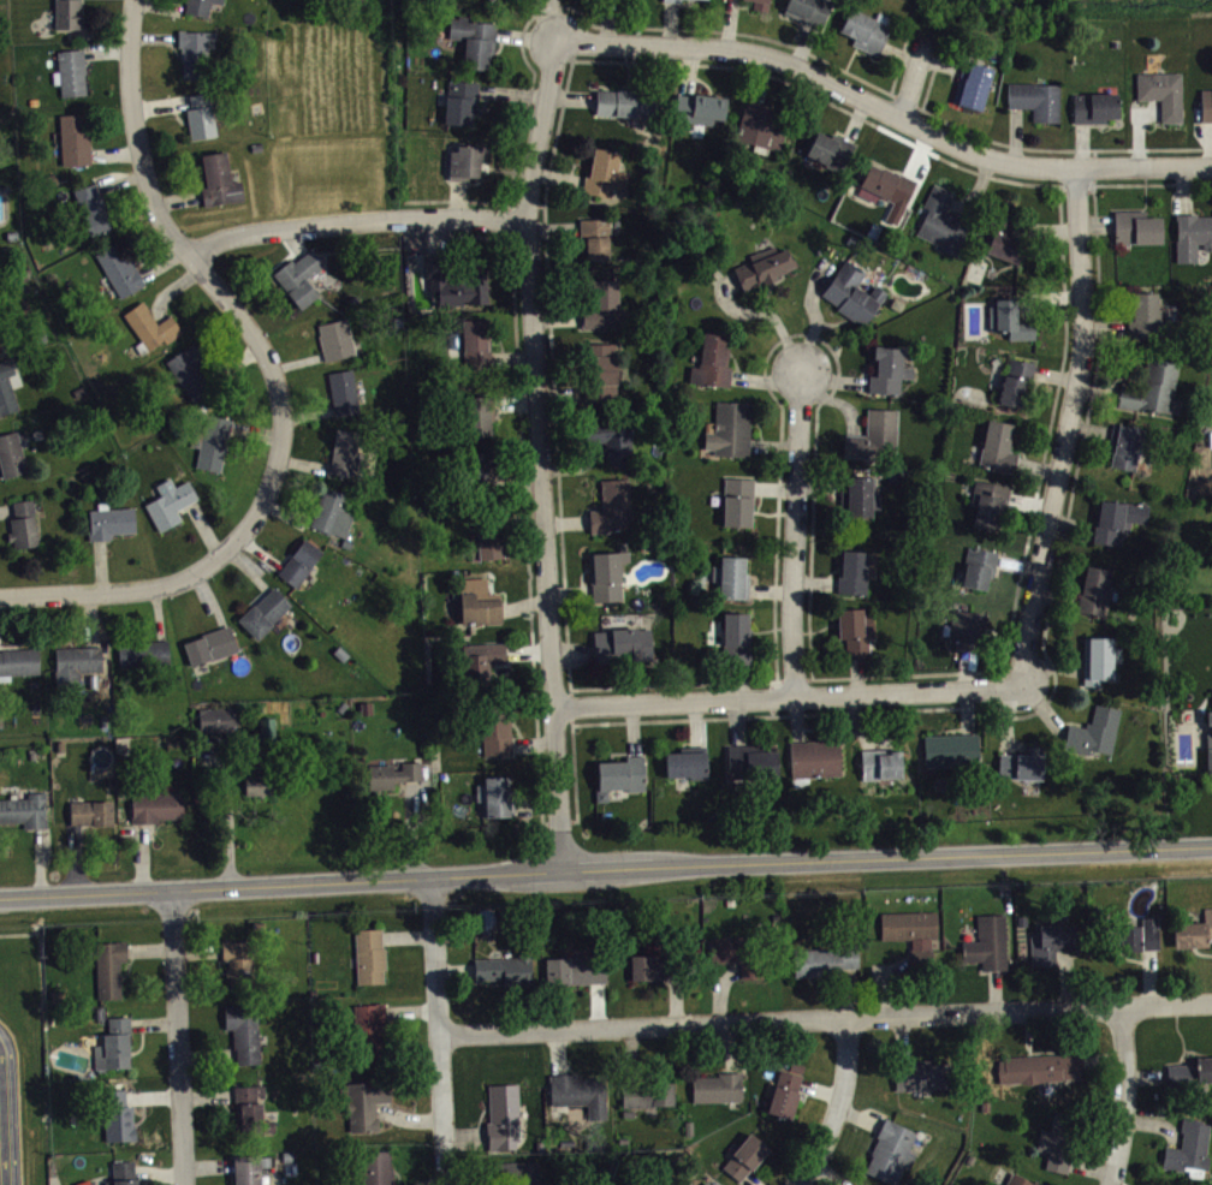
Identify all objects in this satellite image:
building: (671, 0)
building: (495, 2)
road: (165, 4)
building: (760, 5)
building: (198, 6)
building: (807, 10)
building: (66, 14)
road: (547, 22)
road: (555, 22)
road: (607, 22)
road: (670, 23)
road: (727, 23)
road: (702, 28)
building: (865, 29)
road: (153, 36)
road: (528, 36)
building: (474, 38)
road: (803, 44)
building: (194, 49)
road: (566, 50)
road: (105, 52)
road: (898, 52)
road: (899, 61)
road: (939, 61)
road: (687, 69)
building: (70, 70)
road: (932, 73)
road: (761, 76)
road: (911, 76)
building: (970, 84)
road: (511, 91)
building: (1160, 93)
road: (565, 95)
road: (570, 97)
building: (461, 99)
road: (821, 99)
building: (625, 100)
road: (907, 100)
building: (1034, 100)
road: (160, 103)
building: (1206, 105)
building: (699, 106)
building: (1093, 106)
road: (885, 109)
building: (200, 114)
road: (855, 118)
road: (523, 119)
building: (757, 121)
road: (1137, 126)
road: (1014, 135)
building: (73, 137)
road: (1080, 142)
road: (1210, 142)
building: (830, 147)
road: (1059, 149)
road: (114, 153)
road: (917, 153)
building: (464, 157)
road: (1093, 166)
building: (604, 171)
road: (557, 175)
building: (216, 178)
road: (120, 179)
building: (887, 181)
road: (1152, 183)
road: (1183, 187)
road: (976, 189)
road: (1075, 189)
road: (457, 197)
road: (178, 198)
road: (473, 201)
road: (527, 202)
road: (1093, 206)
building: (90, 207)
road: (356, 219)
building: (940, 219)
road: (1094, 226)
building: (1135, 226)
road: (553, 227)
road: (1044, 228)
building: (1192, 233)
building: (1002, 234)
road: (436, 236)
road: (474, 236)
building: (595, 236)
road: (293, 239)
road: (162, 261)
building: (762, 264)
building: (119, 267)
building: (298, 275)
building: (454, 281)
road: (171, 288)
building: (851, 291)
road: (219, 292)
road: (1045, 297)
building: (600, 302)
road: (761, 311)
building: (1145, 314)
road: (814, 315)
road: (555, 316)
building: (1009, 317)
building: (149, 326)
road: (1104, 327)
road: (801, 333)
building: (335, 338)
building: (476, 340)
road: (512, 356)
building: (711, 359)
road: (231, 362)
road: (297, 362)
building: (887, 368)
building: (188, 370)
building: (599, 370)
road: (1052, 374)
road: (765, 380)
road: (833, 380)
building: (1012, 380)
building: (1152, 385)
building: (6, 387)
building: (343, 389)
road: (1095, 389)
road: (559, 392)
road: (832, 399)
road: (516, 401)
road: (554, 410)
road: (308, 412)
building: (476, 412)
road: (1067, 425)
building: (729, 427)
road: (1088, 427)
road: (1048, 428)
road: (255, 430)
building: (873, 433)
building: (608, 437)
building: (210, 440)
building: (997, 443)
building: (1124, 443)
road: (772, 445)
building: (345, 452)
road: (540, 453)
building: (11, 454)
road: (303, 462)
road: (575, 465)
road: (1036, 466)
building: (474, 472)
road: (513, 481)
road: (818, 484)
road: (774, 487)
building: (857, 495)
building: (168, 500)
building: (737, 501)
building: (988, 501)
road: (1028, 502)
building: (611, 505)
road: (6, 508)
road: (286, 510)
building: (332, 513)
building: (1116, 518)
building: (108, 519)
road: (519, 519)
road: (565, 520)
building: (22, 524)
road: (525, 524)
road: (204, 528)
road: (1070, 529)
road: (794, 532)
building: (486, 536)
road: (260, 552)
building: (298, 561)
road: (1018, 564)
building: (978, 565)
road: (100, 566)
road: (248, 568)
building: (850, 570)
building: (606, 572)
building: (730, 574)
road: (814, 582)
building: (1093, 588)
road: (770, 589)
road: (569, 591)
road: (105, 592)
road: (1056, 596)
road: (212, 597)
building: (477, 601)
road: (523, 603)
building: (263, 611)
road: (158, 613)
road: (89, 619)
building: (966, 627)
building: (854, 631)
building: (735, 635)
building: (210, 643)
building: (622, 643)
road: (527, 650)
building: (142, 651)
road: (571, 651)
building: (1099, 657)
building: (18, 660)
building: (480, 661)
building: (75, 662)
road: (1048, 665)
road: (967, 668)
road: (905, 673)
road: (856, 674)
road: (741, 679)
road: (794, 679)
road: (672, 685)
road: (786, 696)
road: (771, 697)
road: (1047, 701)
road: (570, 707)
road: (1044, 708)
road: (967, 709)
building: (1208, 715)
road: (1005, 716)
road: (796, 717)
building: (215, 719)
road: (736, 721)
road: (855, 721)
road: (695, 722)
building: (1211, 723)
building: (266, 727)
building: (494, 727)
road: (631, 727)
building: (1093, 730)
road: (531, 742)
building: (950, 749)
building: (1208, 752)
building: (814, 757)
building: (685, 761)
building: (749, 761)
building: (878, 762)
building: (1020, 762)
building: (391, 772)
building: (622, 772)
road: (574, 775)
building: (397, 781)
building: (256, 784)
building: (261, 792)
building: (498, 794)
building: (155, 804)
road: (534, 804)
building: (24, 809)
building: (89, 810)
road: (228, 822)
road: (552, 822)
road: (411, 828)
road: (141, 854)
road: (76, 857)
road: (38, 861)
road: (605, 865)
building: (908, 923)
building: (1193, 928)
road: (17, 933)
building: (1129, 934)
road: (405, 935)
building: (1051, 937)
building: (1153, 940)
building: (986, 941)
road: (149, 948)
road: (197, 949)
building: (736, 951)
building: (368, 953)
building: (920, 957)
building: (824, 960)
building: (238, 961)
building: (655, 964)
building: (107, 966)
road: (453, 967)
building: (505, 967)
building: (575, 969)
road: (1149, 976)
road: (1067, 978)
road: (885, 979)
road: (994, 989)
road: (720, 990)
road: (850, 992)
road: (676, 1000)
road: (598, 1005)
road: (410, 1011)
road: (825, 1017)
road: (153, 1023)
building: (243, 1029)
building: (368, 1029)
road: (438, 1030)
road: (177, 1036)
road: (902, 1040)
building: (113, 1044)
road: (729, 1047)
road: (557, 1052)
road: (629, 1054)
road: (206, 1055)
road: (1103, 1061)
building: (1038, 1066)
building: (1190, 1071)
building: (921, 1073)
road: (1146, 1074)
building: (717, 1085)
road: (819, 1090)
building: (578, 1091)
building: (644, 1092)
building: (783, 1092)
road: (207, 1094)
road: (153, 1095)
road: (1125, 1096)
building: (363, 1101)
road: (12, 1103)
road: (838, 1107)
parking lot: (8, 1110)
building: (249, 1110)
road: (4, 1112)
building: (115, 1114)
building: (501, 1115)
road: (858, 1116)
road: (408, 1118)
road: (1154, 1123)
road: (464, 1137)
building: (1056, 1139)
building: (1187, 1145)
building: (890, 1150)
building: (743, 1154)
road: (208, 1165)
building: (249, 1167)
building: (374, 1167)
road: (1089, 1168)
building: (123, 1172)
road: (158, 1172)
building: (517, 1173)
road: (828, 1173)
road: (749, 1179)
building: (1021, 1179)
building: (689, 1184)
building: (703, 1184)
building: (856, 1184)

